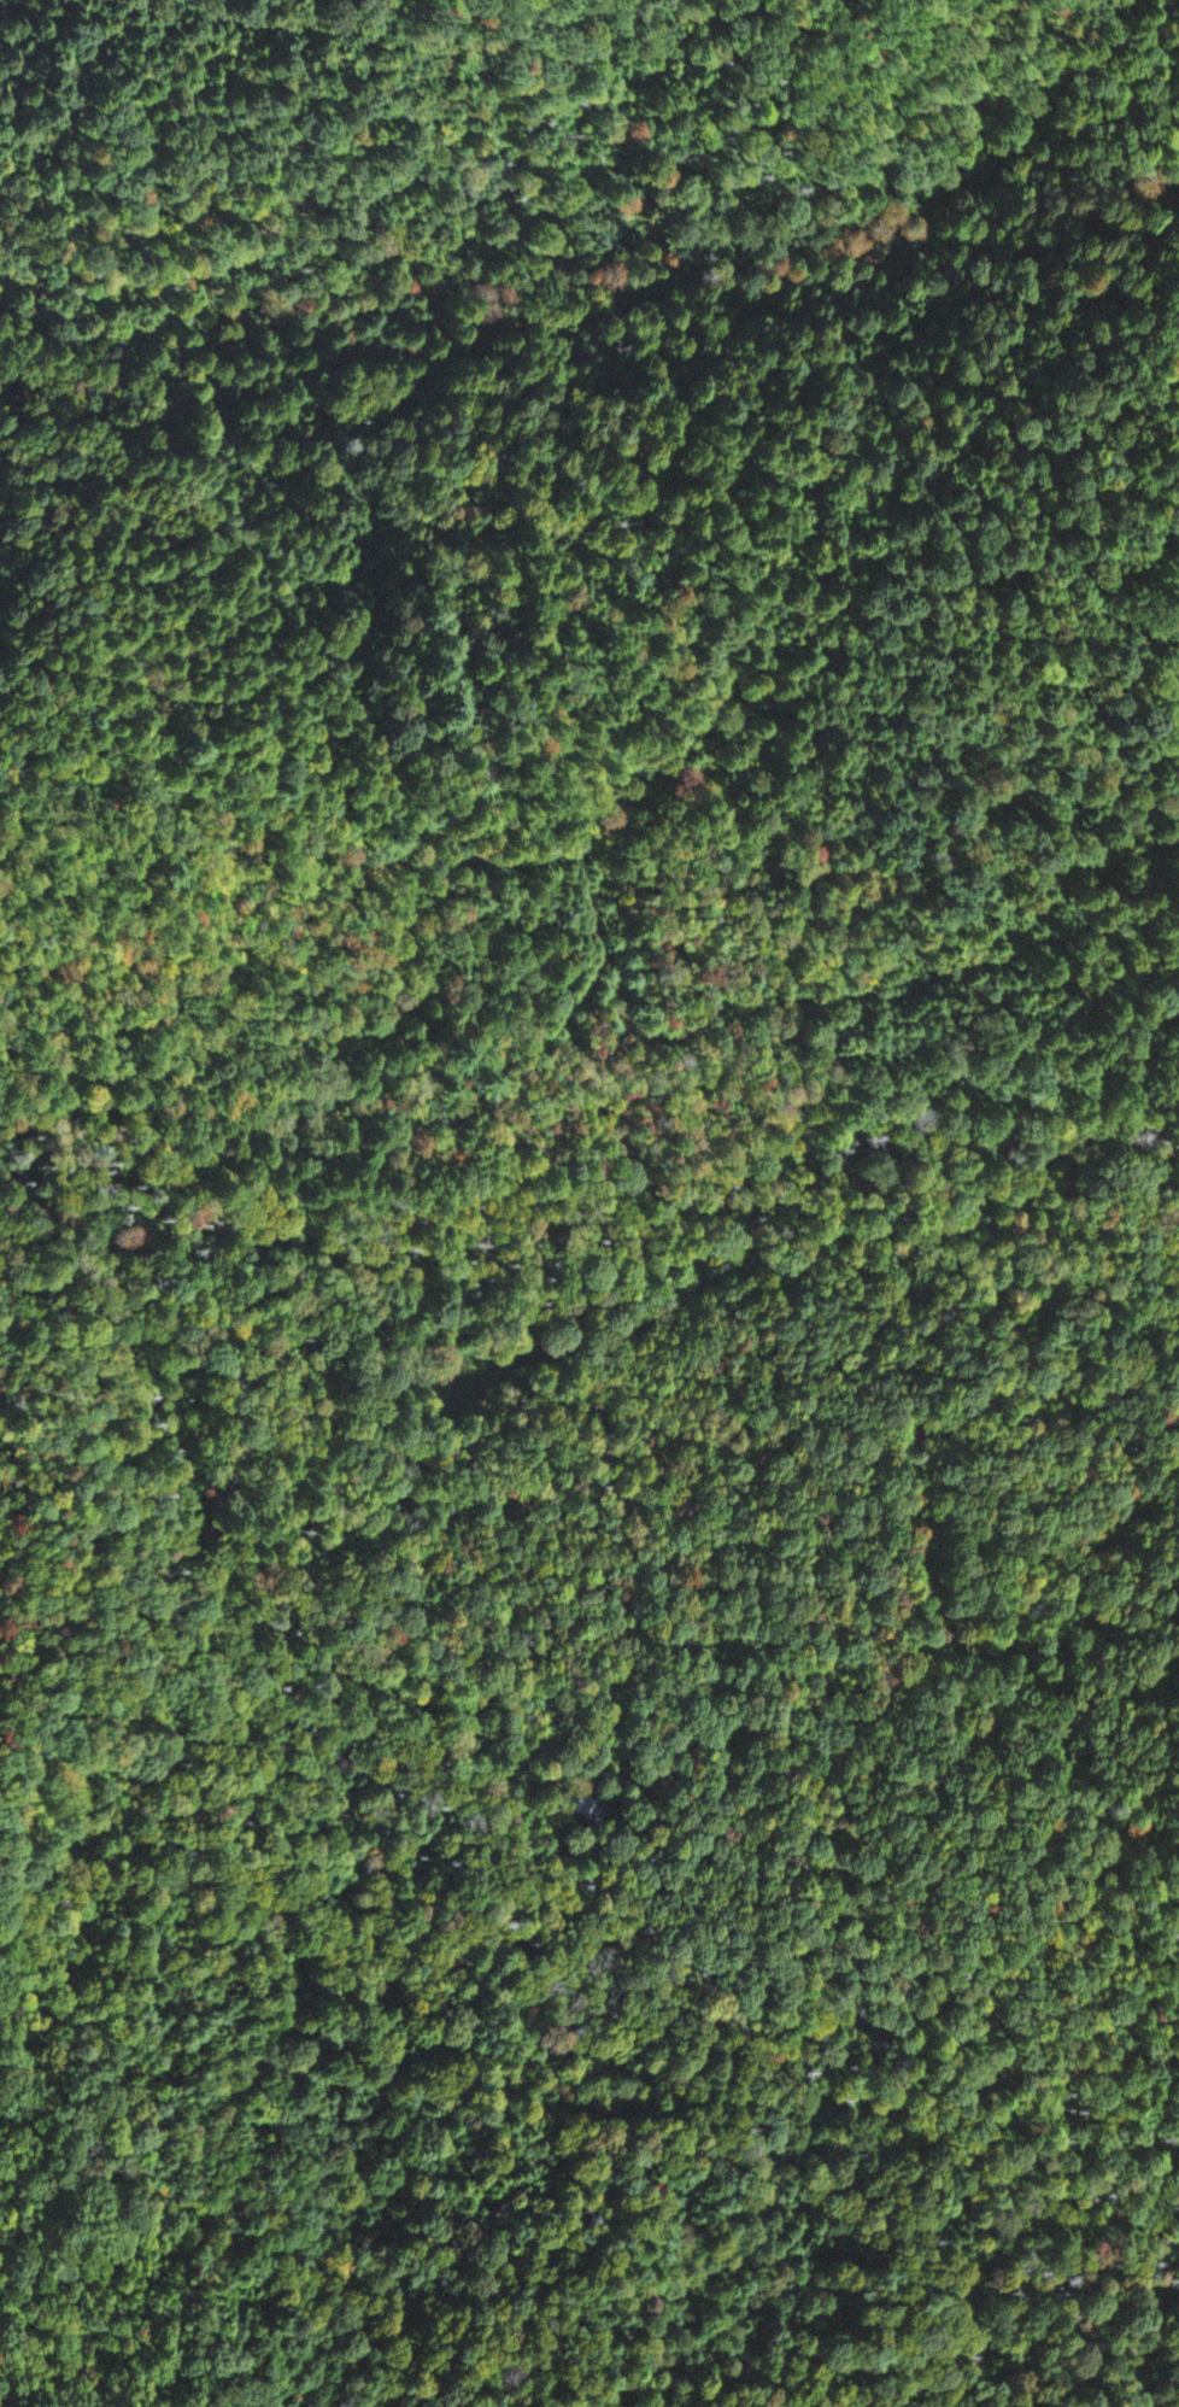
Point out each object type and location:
building: (589, 1806)

